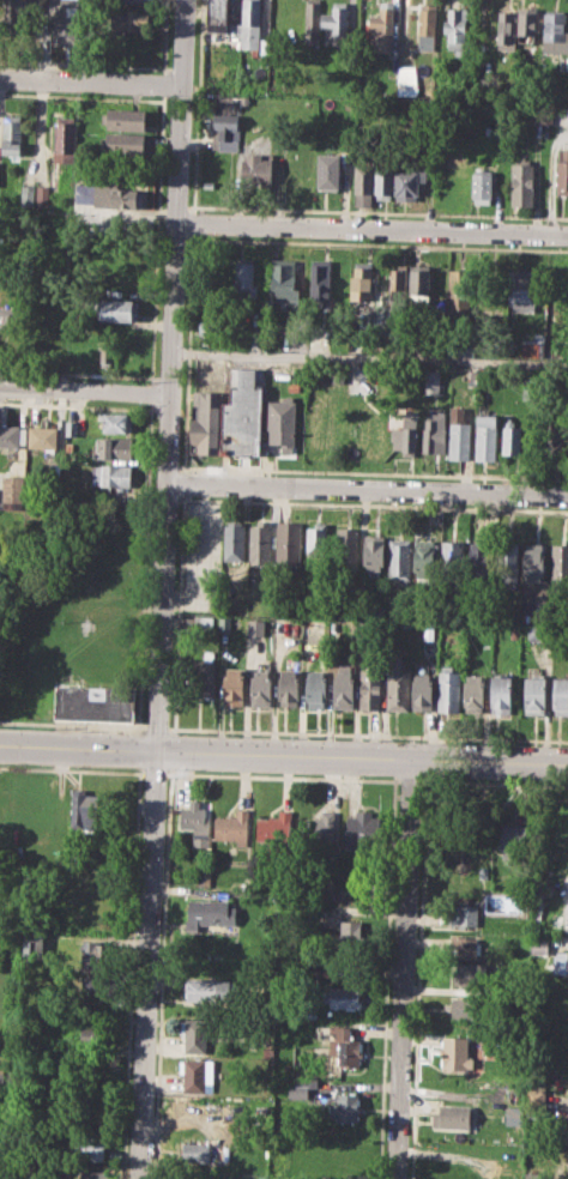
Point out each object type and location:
building: (138, 0)
building: (312, 14)
building: (14, 16)
building: (217, 16)
building: (131, 19)
building: (338, 20)
building: (382, 23)
building: (528, 23)
building: (247, 25)
building: (427, 25)
building: (506, 26)
building: (556, 26)
building: (64, 29)
building: (457, 30)
building: (406, 80)
road: (90, 81)
building: (542, 113)
building: (123, 119)
building: (498, 129)
building: (224, 132)
building: (12, 133)
building: (66, 138)
building: (123, 143)
building: (328, 170)
building: (562, 170)
building: (255, 171)
building: (382, 181)
building: (520, 181)
building: (407, 182)
building: (362, 185)
building: (481, 187)
building: (110, 194)
building: (28, 195)
building: (43, 195)
road: (373, 228)
building: (320, 278)
building: (398, 279)
building: (244, 280)
building: (284, 280)
building: (361, 282)
building: (419, 284)
building: (521, 290)
building: (457, 291)
building: (121, 309)
building: (8, 315)
building: (210, 329)
building: (532, 345)
building: (466, 347)
building: (104, 352)
road: (370, 357)
building: (363, 379)
building: (431, 381)
building: (292, 386)
road: (85, 388)
building: (229, 416)
building: (283, 419)
building: (117, 423)
building: (71, 428)
building: (314, 429)
building: (435, 429)
building: (459, 434)
building: (12, 435)
building: (405, 435)
building: (43, 436)
building: (485, 436)
building: (512, 439)
building: (557, 439)
building: (116, 447)
building: (111, 474)
road: (367, 488)
building: (13, 492)
building: (232, 540)
building: (260, 543)
building: (288, 543)
building: (318, 543)
building: (346, 550)
building: (374, 551)
building: (424, 558)
building: (452, 558)
building: (399, 560)
building: (481, 560)
building: (509, 561)
building: (534, 562)
building: (560, 563)
road: (162, 589)
building: (376, 612)
building: (256, 627)
building: (429, 630)
building: (538, 631)
building: (204, 675)
building: (397, 685)
building: (235, 687)
building: (290, 688)
building: (316, 688)
building: (344, 688)
building: (370, 688)
building: (262, 689)
building: (449, 689)
building: (422, 690)
building: (475, 693)
building: (501, 694)
building: (561, 694)
building: (534, 695)
building: (95, 702)
road: (73, 724)
road: (156, 727)
road: (367, 734)
road: (283, 756)
road: (71, 769)
road: (153, 773)
road: (282, 776)
road: (409, 780)
road: (494, 781)
building: (84, 809)
building: (195, 821)
building: (232, 827)
building: (274, 827)
building: (318, 827)
building: (361, 829)
building: (515, 839)
building: (210, 913)
building: (463, 914)
building: (350, 936)
building: (464, 945)
building: (539, 945)
building: (34, 949)
building: (99, 950)
building: (561, 963)
building: (324, 969)
road: (403, 969)
building: (467, 975)
building: (101, 985)
building: (211, 991)
building: (345, 997)
building: (463, 1006)
building: (95, 1034)
building: (194, 1034)
building: (567, 1042)
building: (342, 1044)
building: (455, 1052)
building: (197, 1071)
building: (306, 1088)
building: (344, 1106)
building: (513, 1115)
building: (454, 1117)
building: (89, 1145)
building: (198, 1151)
building: (90, 1174)

